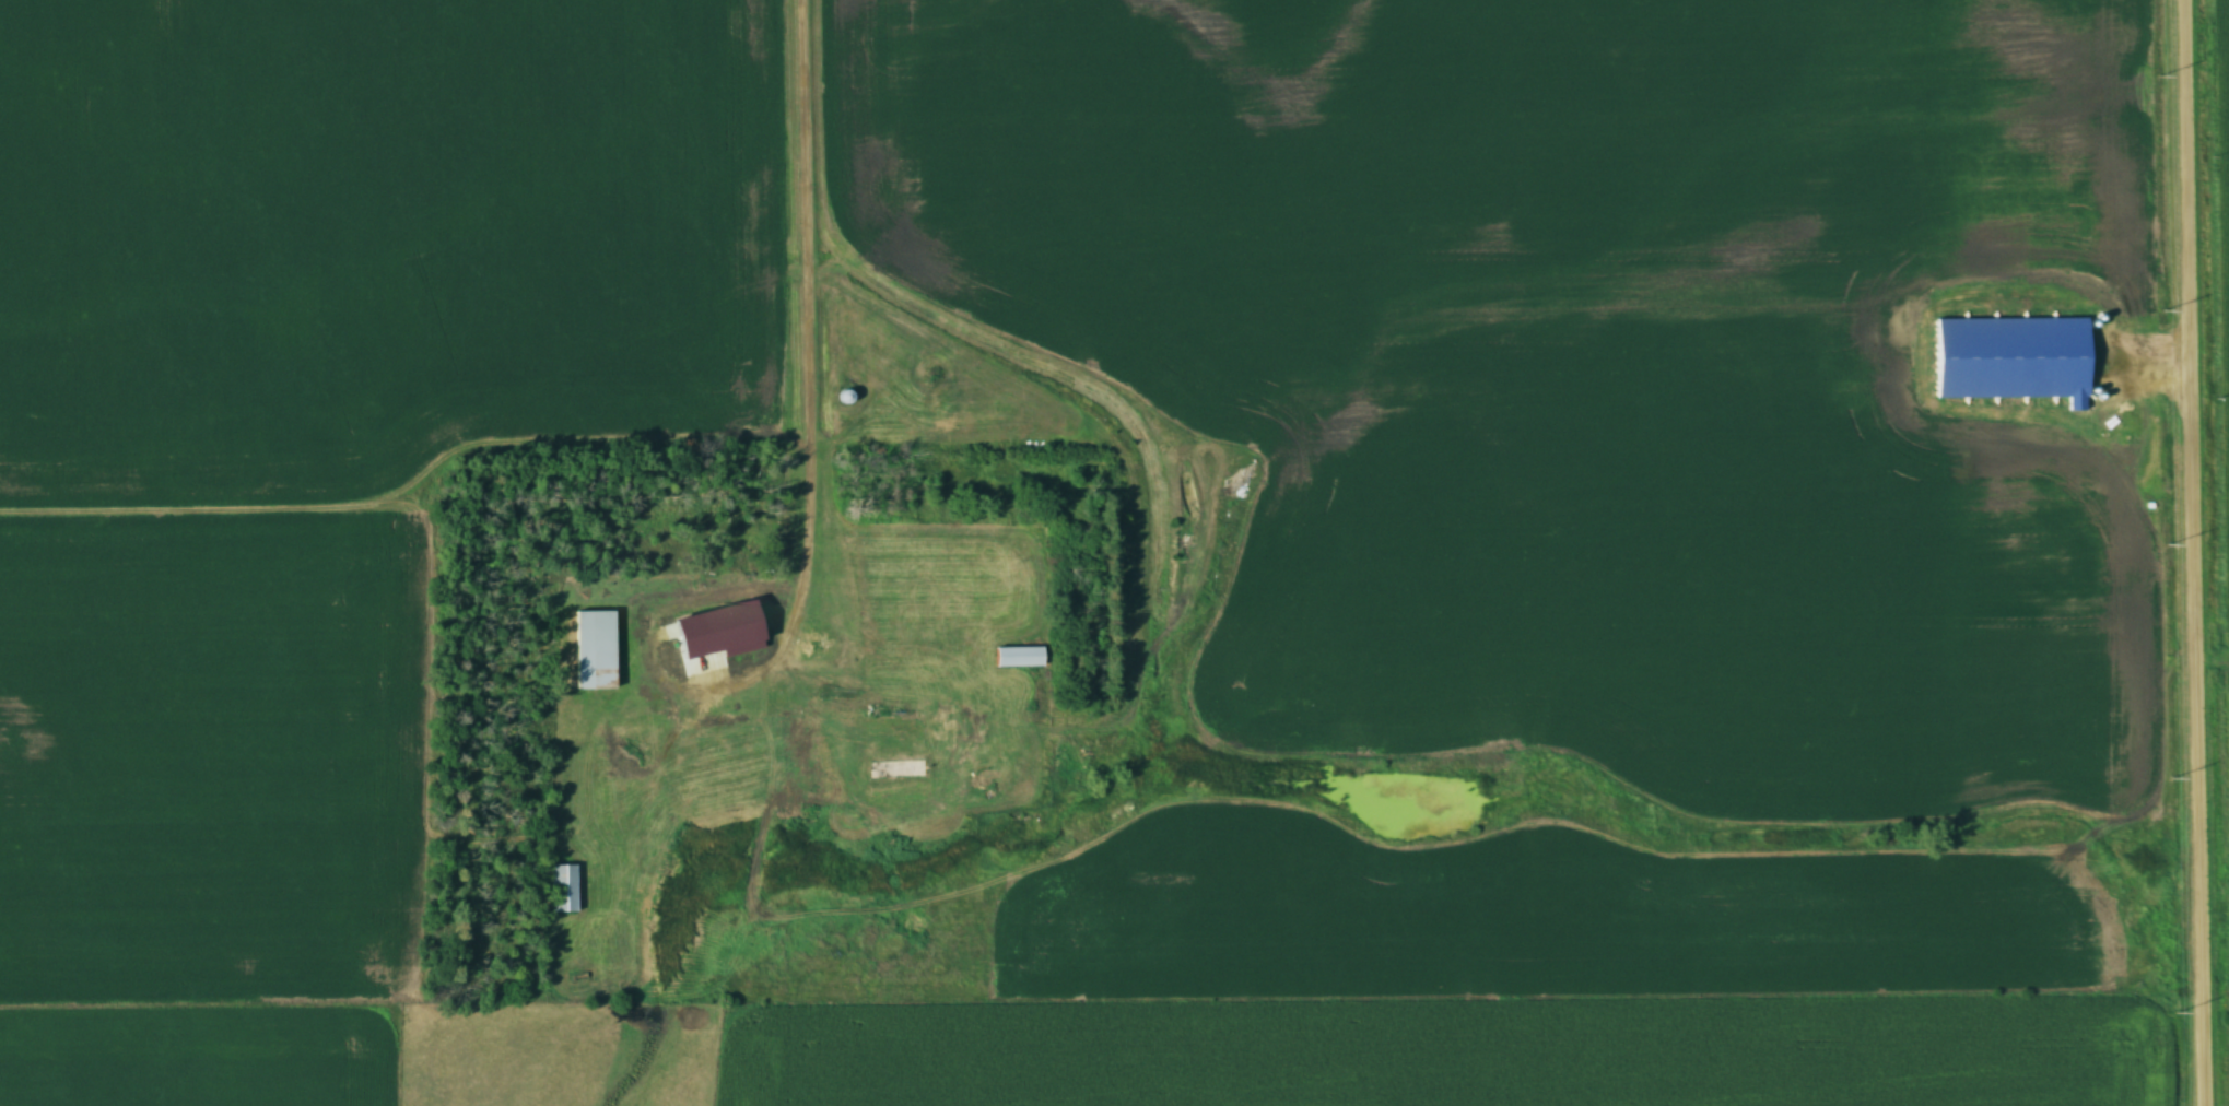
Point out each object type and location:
road: (805, 323)
building: (848, 545)
road: (2190, 552)
building: (718, 628)
building: (814, 646)
building: (595, 652)
building: (1019, 658)
building: (896, 754)
building: (590, 802)
building: (564, 891)

